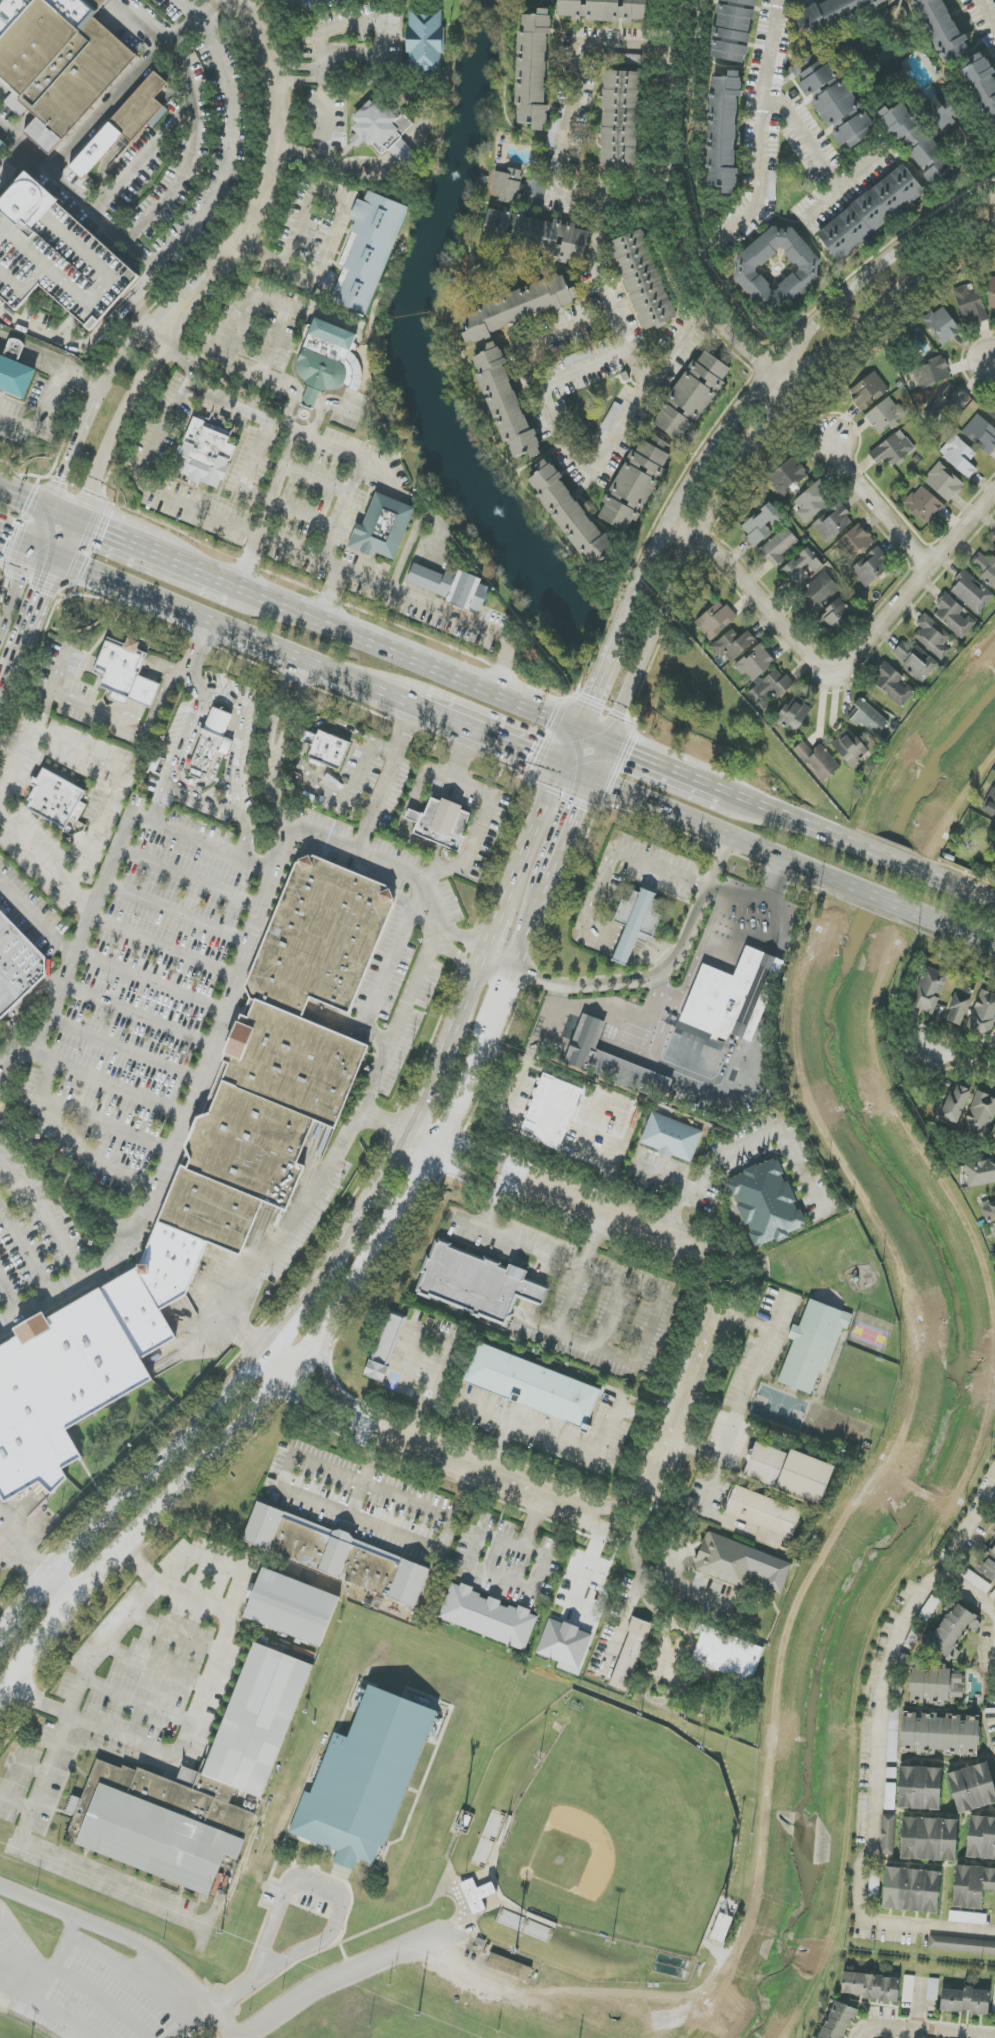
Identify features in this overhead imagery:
building: (604, 10)
building: (834, 13)
road: (200, 16)
road: (985, 17)
road: (374, 20)
building: (943, 28)
building: (732, 30)
building: (425, 40)
building: (56, 62)
road: (297, 67)
building: (533, 69)
road: (297, 78)
building: (817, 78)
road: (394, 82)
building: (983, 85)
road: (123, 91)
road: (781, 102)
building: (844, 116)
building: (946, 118)
building: (620, 119)
building: (125, 124)
building: (553, 130)
building: (723, 131)
building: (383, 132)
building: (916, 143)
road: (192, 148)
road: (226, 149)
road: (298, 153)
road: (144, 154)
road: (404, 155)
road: (13, 160)
road: (271, 160)
road: (324, 162)
building: (508, 185)
road: (756, 188)
road: (78, 193)
road: (590, 198)
road: (825, 206)
road: (672, 213)
building: (871, 213)
road: (336, 232)
building: (535, 235)
building: (368, 251)
building: (57, 257)
building: (777, 269)
building: (641, 280)
road: (144, 282)
building: (992, 295)
road: (134, 300)
road: (270, 300)
building: (970, 302)
building: (518, 307)
road: (165, 313)
road: (143, 315)
building: (942, 325)
road: (157, 335)
road: (72, 342)
road: (990, 355)
road: (116, 360)
building: (328, 361)
building: (16, 372)
building: (932, 373)
road: (264, 374)
road: (760, 380)
building: (868, 391)
road: (300, 395)
building: (692, 396)
road: (47, 398)
road: (310, 399)
building: (505, 403)
road: (127, 407)
building: (946, 407)
building: (884, 415)
road: (319, 416)
building: (981, 434)
road: (751, 443)
building: (893, 449)
road: (69, 453)
road: (289, 453)
road: (575, 456)
building: (959, 456)
building: (206, 457)
road: (355, 473)
building: (788, 477)
building: (944, 482)
building: (636, 483)
road: (164, 495)
road: (23, 496)
building: (811, 504)
building: (925, 504)
road: (875, 505)
traffic signals: (47, 506)
road: (63, 512)
building: (569, 513)
traffic signals: (79, 519)
building: (832, 522)
building: (762, 525)
road: (38, 527)
building: (382, 527)
road: (112, 533)
building: (994, 533)
road: (70, 540)
building: (854, 542)
road: (14, 543)
building: (779, 547)
building: (994, 547)
traffic signals: (29, 549)
road: (45, 555)
traffic signals: (61, 562)
road: (191, 566)
building: (871, 567)
building: (986, 568)
road: (914, 582)
building: (823, 583)
road: (14, 586)
building: (450, 586)
road: (751, 590)
building: (971, 592)
road: (433, 601)
road: (181, 611)
building: (836, 615)
building: (954, 617)
building: (715, 620)
road: (34, 623)
building: (933, 636)
building: (733, 645)
road: (407, 658)
road: (196, 660)
building: (916, 661)
building: (755, 663)
building: (125, 673)
road: (360, 684)
building: (892, 684)
road: (595, 687)
building: (771, 689)
road: (4, 694)
building: (795, 713)
building: (868, 718)
road: (115, 726)
traffic signals: (578, 730)
road: (188, 735)
road: (593, 736)
road: (491, 737)
traffic signals: (608, 742)
building: (214, 745)
road: (240, 745)
road: (570, 748)
building: (327, 749)
building: (850, 750)
road: (97, 760)
road: (600, 760)
building: (818, 760)
traffic signals: (562, 767)
road: (668, 768)
road: (577, 772)
traffic signals: (592, 778)
road: (390, 781)
parking lot: (65, 790)
building: (55, 796)
road: (740, 799)
road: (161, 800)
road: (209, 803)
building: (991, 804)
road: (489, 806)
road: (162, 819)
road: (690, 820)
building: (441, 823)
road: (571, 831)
road: (246, 837)
road: (531, 839)
road: (874, 851)
road: (46, 859)
parking lot: (240, 860)
road: (646, 862)
road: (400, 870)
road: (190, 876)
road: (757, 900)
road: (890, 906)
road: (177, 912)
road: (37, 916)
building: (636, 922)
road: (587, 923)
road: (491, 934)
road: (165, 945)
road: (627, 945)
parking lot: (25, 955)
road: (656, 956)
building: (18, 962)
road: (501, 965)
road: (397, 971)
road: (669, 978)
road: (152, 979)
building: (929, 990)
building: (733, 997)
building: (959, 1004)
road: (621, 1010)
road: (139, 1013)
building: (983, 1014)
road: (457, 1015)
road: (395, 1041)
road: (125, 1048)
parking lot: (117, 1057)
road: (209, 1058)
road: (963, 1058)
building: (611, 1061)
road: (3, 1067)
road: (108, 1083)
building: (957, 1102)
road: (419, 1105)
building: (552, 1111)
building: (980, 1115)
road: (107, 1124)
building: (993, 1133)
building: (671, 1137)
road: (75, 1141)
road: (438, 1145)
road: (744, 1147)
building: (980, 1173)
building: (207, 1174)
road: (61, 1175)
road: (668, 1175)
building: (766, 1203)
building: (989, 1212)
road: (46, 1213)
road: (357, 1219)
building: (994, 1230)
road: (502, 1234)
road: (286, 1238)
road: (26, 1250)
road: (566, 1260)
building: (478, 1284)
road: (66, 1286)
road: (532, 1290)
road: (9, 1297)
road: (285, 1325)
road: (648, 1330)
road: (444, 1338)
building: (813, 1345)
building: (386, 1346)
road: (275, 1367)
road: (694, 1372)
road: (329, 1381)
building: (532, 1386)
road: (749, 1393)
road: (315, 1414)
road: (501, 1448)
road: (584, 1452)
building: (789, 1472)
road: (123, 1488)
road: (990, 1499)
road: (426, 1509)
building: (764, 1511)
road: (968, 1527)
road: (22, 1531)
road: (141, 1538)
building: (336, 1554)
road: (33, 1558)
road: (222, 1558)
road: (470, 1559)
road: (669, 1561)
road: (592, 1563)
building: (740, 1563)
building: (976, 1580)
road: (69, 1584)
road: (968, 1597)
building: (292, 1607)
building: (488, 1617)
road: (623, 1624)
building: (954, 1631)
road: (106, 1641)
building: (564, 1643)
building: (631, 1654)
building: (727, 1654)
road: (650, 1663)
road: (994, 1665)
road: (154, 1666)
road: (207, 1681)
building: (935, 1685)
road: (137, 1701)
road: (63, 1730)
building: (941, 1734)
building: (365, 1779)
building: (196, 1785)
building: (972, 1787)
building: (920, 1788)
road: (875, 1811)
park: (603, 1826)
building: (887, 1834)
building: (981, 1838)
building: (929, 1839)
road: (73, 1872)
building: (972, 1885)
building: (911, 1890)
building: (477, 1895)
road: (38, 1902)
building: (721, 1928)
building: (962, 1945)
road: (117, 1964)
road: (282, 1965)
building: (509, 1967)
road: (334, 1977)
road: (47, 1978)
building: (871, 1986)
building: (908, 1989)
road: (103, 1998)
building: (994, 2000)
building: (965, 2001)
road: (919, 2005)
road: (64, 2016)
building: (838, 2021)
road: (190, 2022)
road: (222, 2022)
road: (920, 2032)

